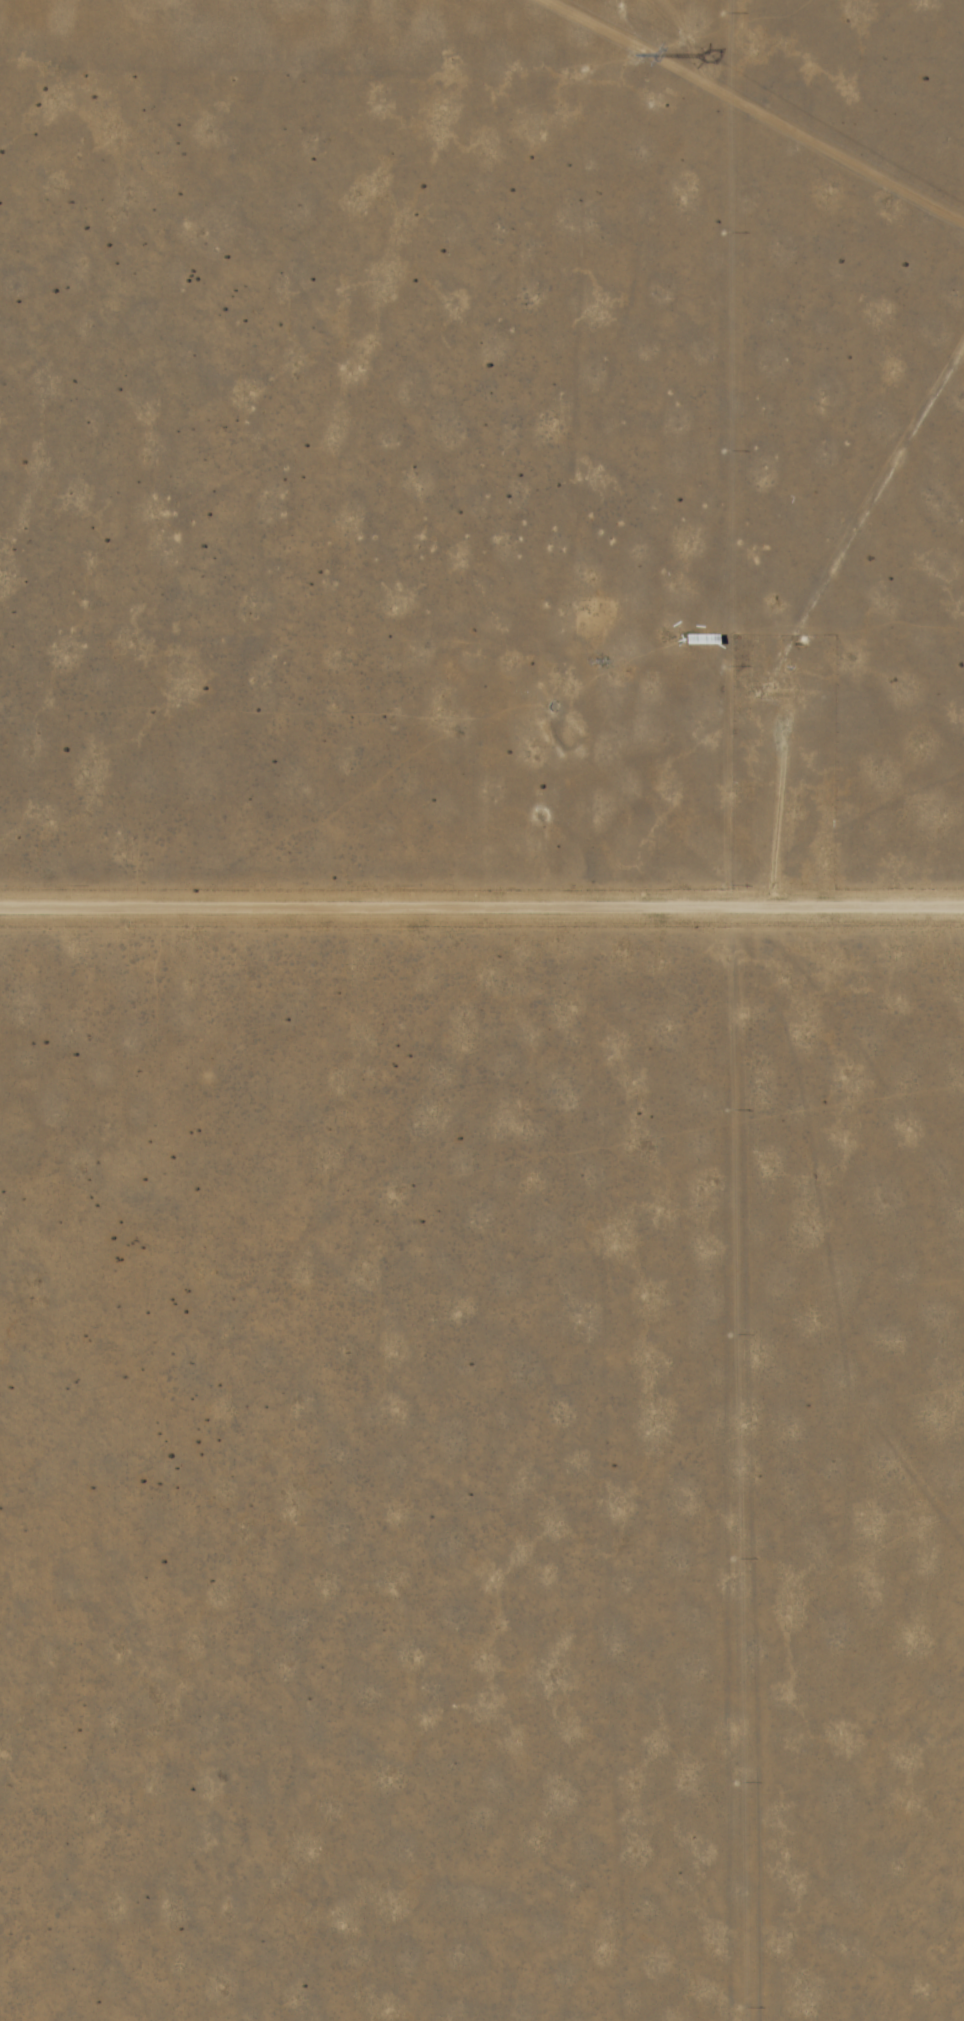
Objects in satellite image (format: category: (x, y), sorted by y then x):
power tower: (634, 53)
building: (697, 641)
road: (482, 889)

